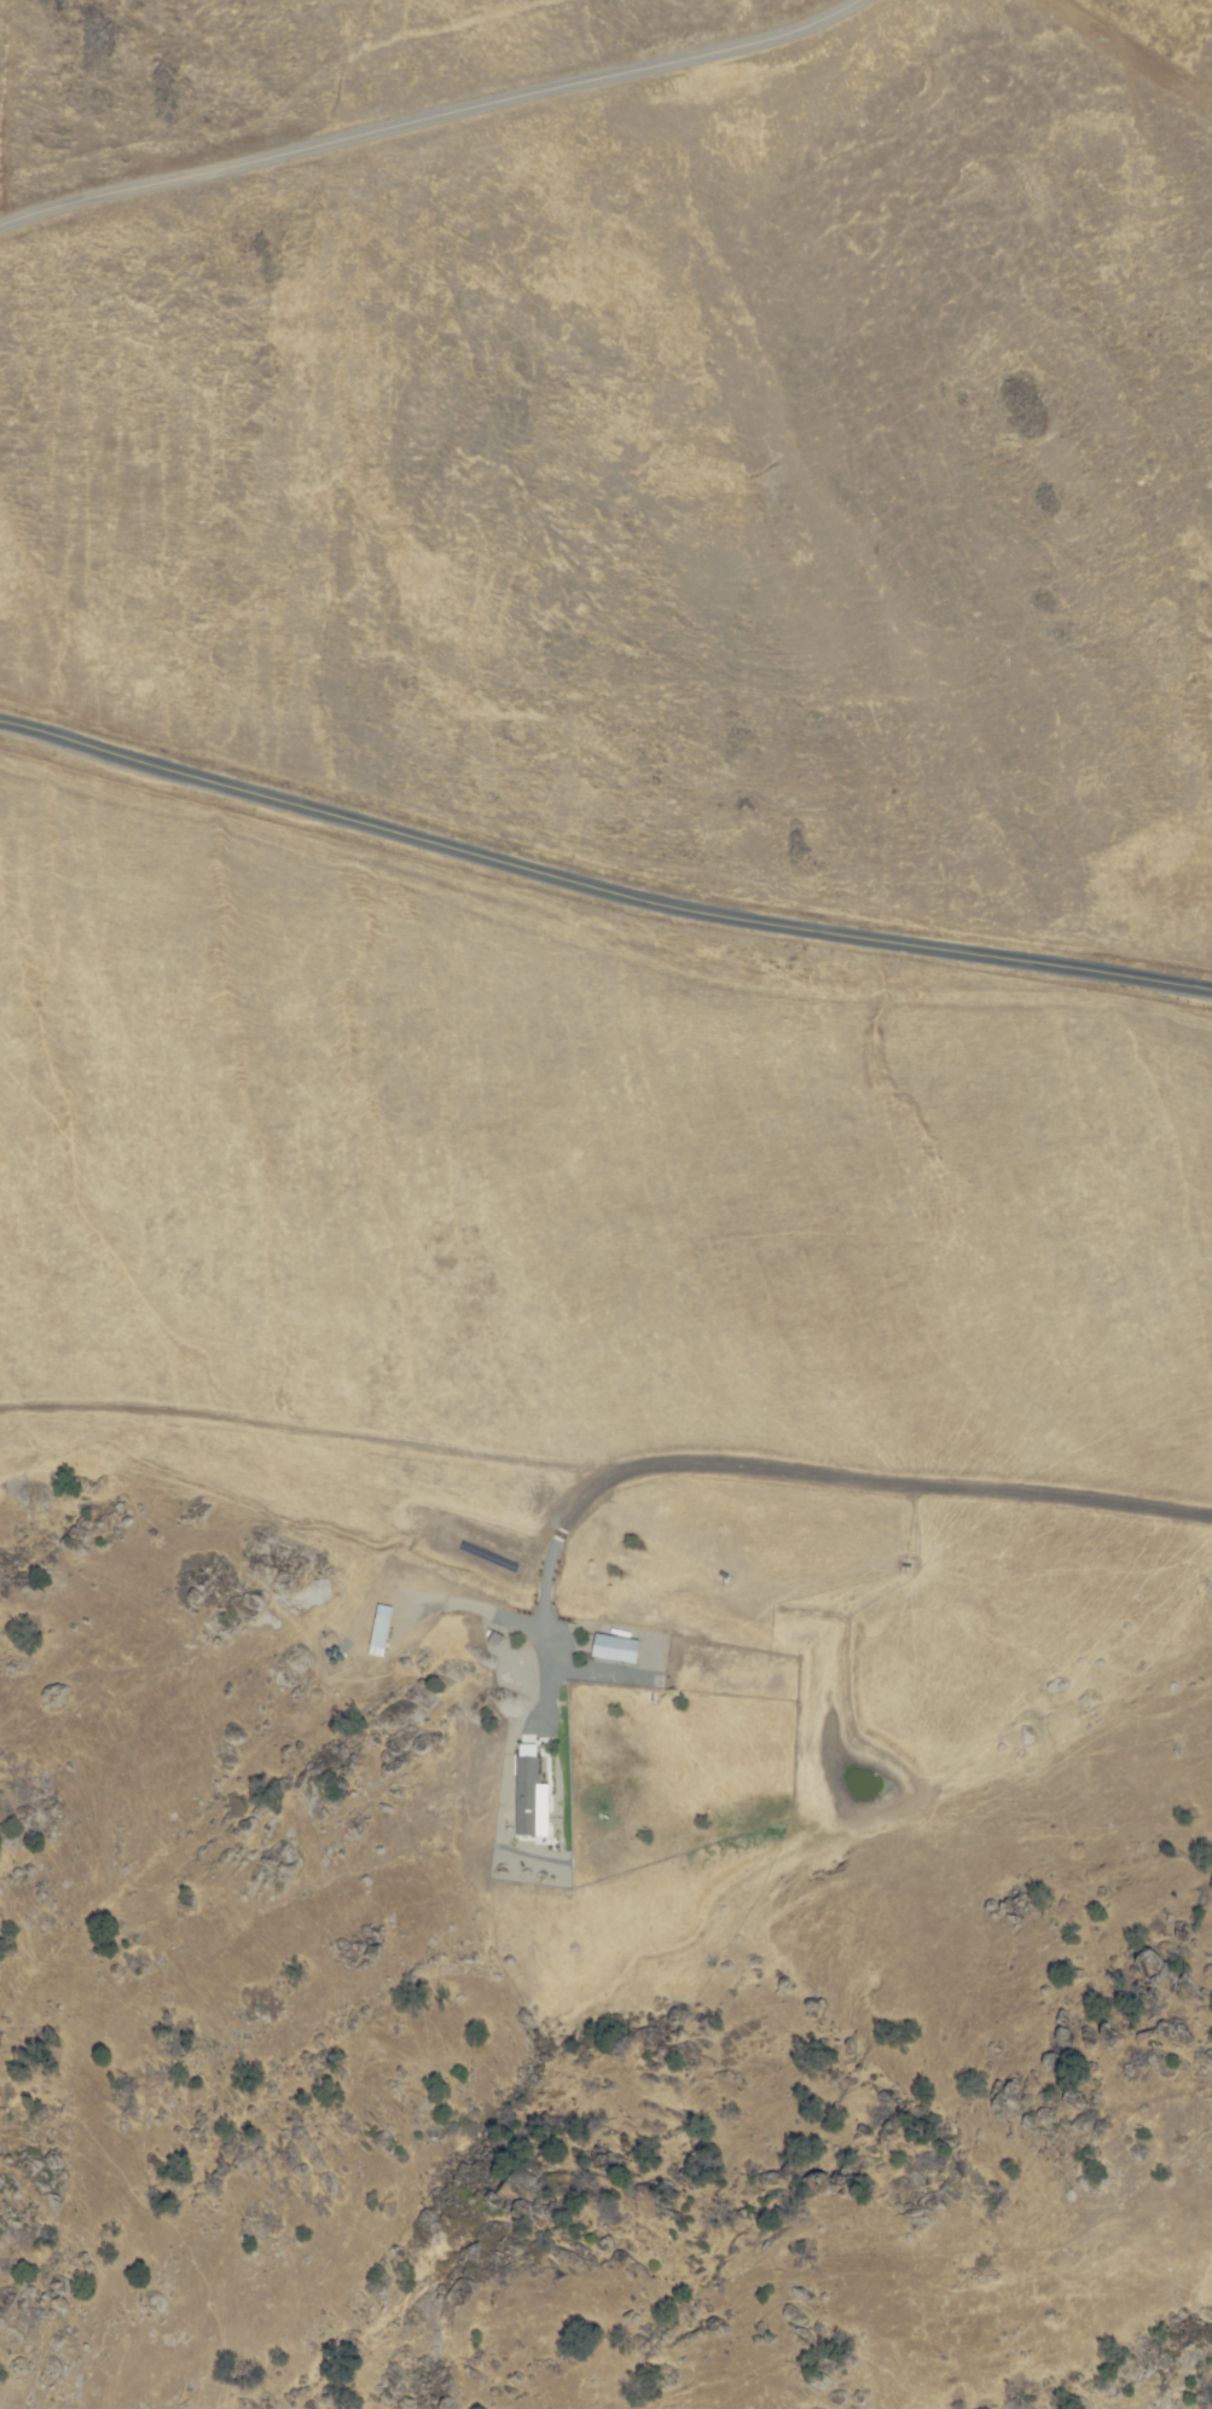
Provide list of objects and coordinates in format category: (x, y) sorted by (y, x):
road: (431, 120)
road: (598, 887)
building: (614, 1647)
building: (530, 1799)

